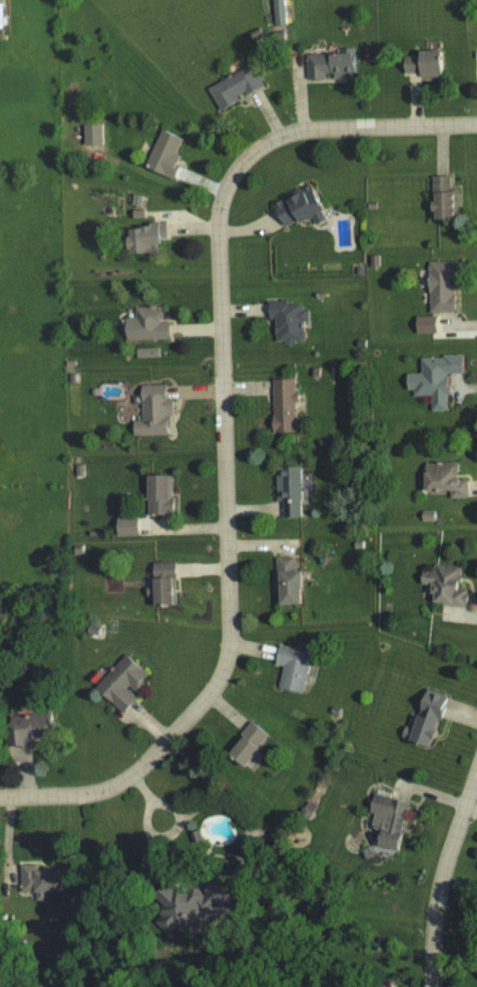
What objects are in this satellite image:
building: (1, 21)
building: (422, 61)
building: (330, 64)
building: (232, 86)
road: (322, 129)
building: (91, 133)
building: (163, 153)
building: (438, 196)
building: (296, 207)
building: (141, 236)
building: (286, 320)
building: (423, 323)
building: (143, 325)
building: (144, 352)
building: (431, 378)
building: (282, 404)
building: (151, 411)
building: (441, 478)
building: (287, 489)
building: (156, 493)
building: (125, 526)
building: (284, 580)
building: (160, 581)
road: (228, 583)
building: (443, 585)
building: (290, 667)
building: (118, 683)
building: (421, 718)
building: (26, 727)
building: (244, 744)
road: (212, 805)
building: (305, 809)
building: (384, 819)
road: (441, 877)
building: (37, 880)
building: (183, 905)

